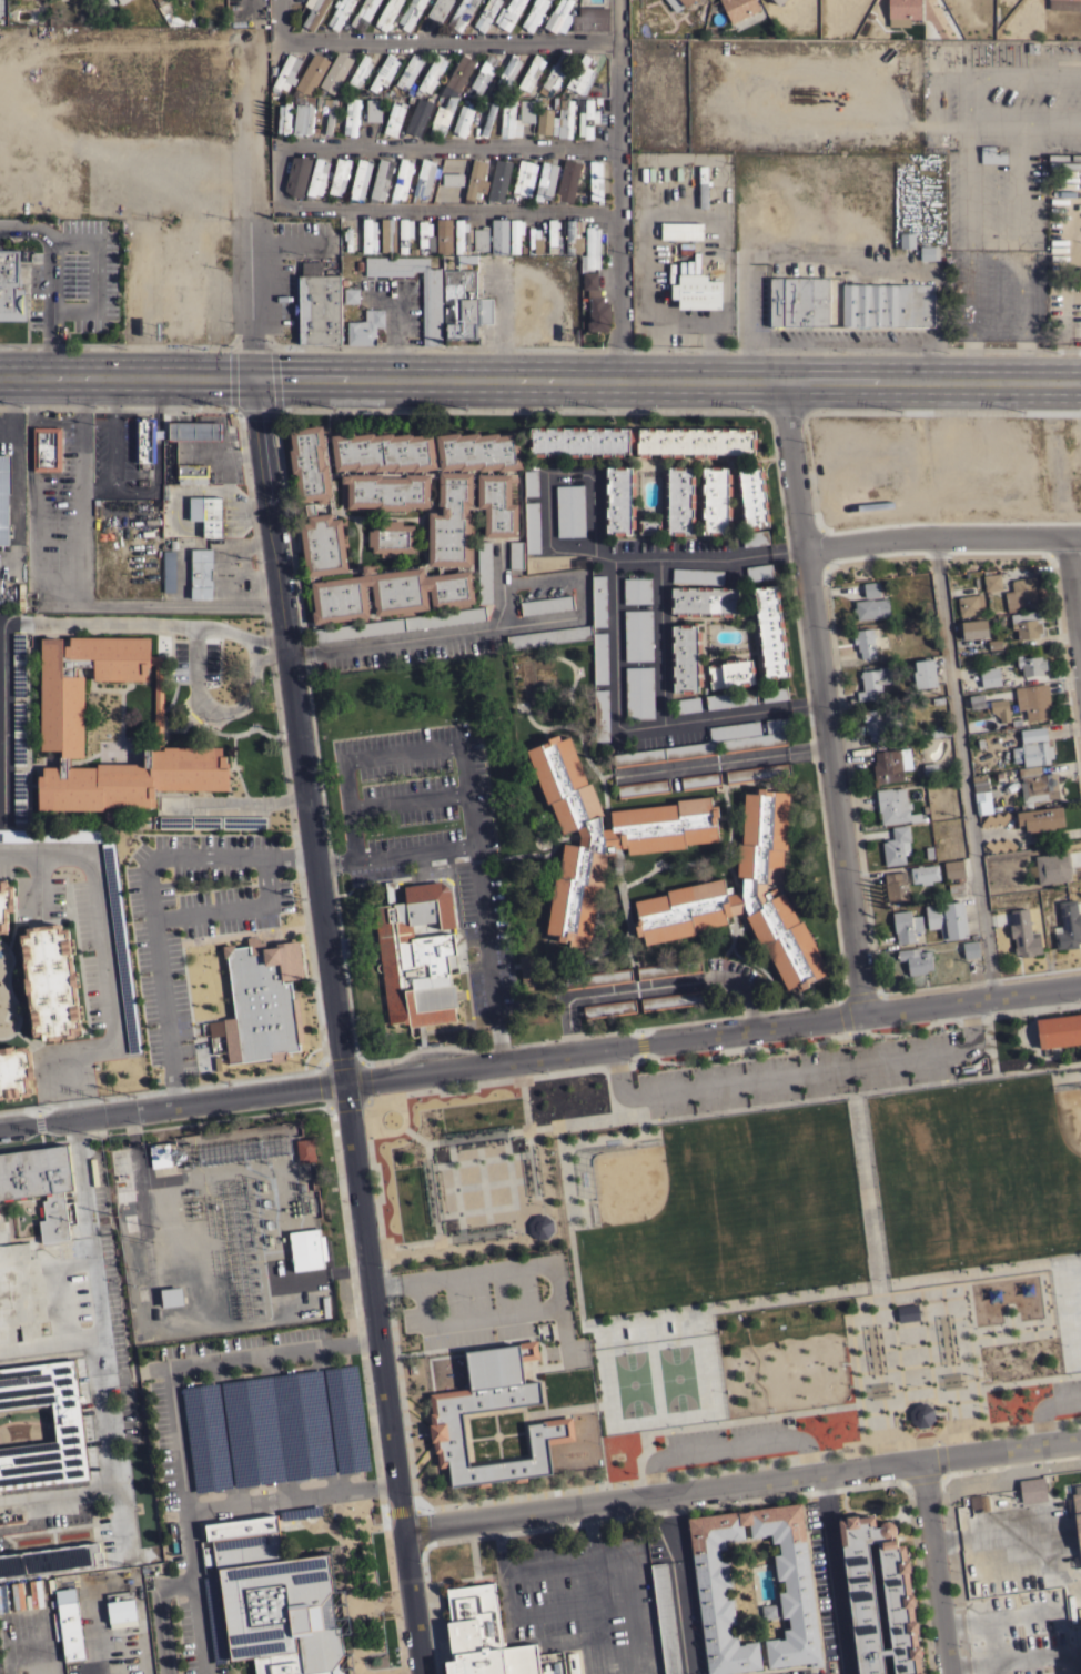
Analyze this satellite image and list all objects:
building: (122, 1)
building: (778, 1)
building: (781, 1)
building: (159, 2)
building: (678, 3)
building: (1064, 4)
building: (190, 6)
building: (739, 8)
building: (438, 9)
building: (903, 9)
building: (314, 12)
building: (340, 12)
building: (190, 13)
building: (410, 13)
building: (459, 13)
building: (508, 13)
building: (363, 14)
building: (387, 14)
building: (486, 14)
building: (534, 14)
building: (577, 18)
building: (166, 19)
building: (180, 22)
building: (190, 22)
road: (430, 42)
building: (272, 70)
building: (408, 70)
building: (507, 70)
building: (335, 71)
building: (309, 72)
building: (358, 72)
building: (384, 72)
building: (484, 72)
building: (531, 72)
building: (285, 73)
building: (431, 73)
building: (458, 74)
building: (555, 74)
building: (582, 74)
building: (493, 88)
building: (339, 92)
building: (355, 92)
building: (388, 92)
building: (499, 92)
building: (383, 93)
building: (485, 93)
building: (384, 98)
building: (465, 100)
building: (597, 100)
building: (547, 103)
building: (373, 110)
building: (330, 114)
building: (303, 117)
building: (351, 117)
building: (417, 117)
building: (488, 117)
building: (284, 118)
building: (442, 118)
building: (526, 118)
building: (587, 118)
building: (393, 119)
building: (463, 119)
building: (564, 119)
building: (543, 121)
building: (991, 154)
building: (296, 173)
building: (339, 175)
building: (317, 177)
building: (524, 178)
road: (279, 179)
building: (358, 179)
building: (380, 179)
building: (401, 179)
building: (423, 179)
building: (452, 179)
building: (475, 180)
building: (498, 180)
building: (545, 180)
building: (566, 180)
building: (595, 180)
building: (703, 186)
road: (619, 189)
road: (249, 206)
building: (404, 233)
building: (424, 234)
building: (515, 234)
building: (368, 235)
building: (387, 235)
building: (444, 235)
building: (552, 235)
building: (461, 236)
building: (498, 236)
building: (533, 236)
building: (572, 236)
building: (479, 240)
building: (907, 240)
building: (590, 250)
building: (413, 251)
building: (529, 252)
building: (929, 252)
road: (997, 255)
parking lot: (74, 279)
building: (11, 286)
building: (696, 291)
building: (351, 295)
building: (461, 299)
building: (798, 301)
building: (584, 303)
building: (595, 303)
building: (319, 304)
building: (887, 305)
building: (432, 310)
building: (486, 310)
building: (365, 327)
road: (115, 344)
road: (271, 344)
road: (676, 347)
road: (125, 376)
traffic signals: (253, 376)
road: (516, 376)
road: (931, 377)
road: (519, 406)
road: (787, 409)
road: (944, 410)
building: (193, 431)
building: (143, 441)
building: (640, 441)
building: (47, 448)
building: (190, 472)
building: (531, 482)
road: (102, 487)
road: (137, 491)
building: (4, 496)
building: (751, 496)
building: (618, 500)
building: (678, 500)
building: (715, 500)
road: (249, 507)
building: (569, 510)
building: (211, 515)
building: (647, 525)
building: (532, 527)
building: (321, 531)
road: (596, 533)
road: (941, 536)
building: (392, 537)
building: (754, 537)
building: (515, 554)
building: (169, 571)
building: (484, 572)
building: (758, 572)
building: (201, 573)
building: (696, 575)
building: (991, 581)
road: (55, 586)
road: (1074, 587)
building: (870, 588)
building: (636, 591)
building: (1021, 594)
building: (21, 596)
building: (598, 601)
building: (704, 601)
building: (543, 604)
building: (970, 604)
building: (870, 608)
building: (398, 624)
building: (1027, 624)
road: (4, 625)
building: (973, 628)
building: (769, 632)
building: (638, 635)
road: (432, 636)
building: (548, 636)
building: (865, 642)
building: (599, 657)
building: (685, 657)
building: (19, 664)
building: (1030, 665)
road: (193, 668)
building: (730, 673)
building: (923, 673)
building: (990, 676)
building: (872, 682)
building: (639, 692)
building: (774, 693)
road: (820, 696)
building: (730, 698)
building: (976, 700)
building: (1032, 700)
building: (686, 705)
building: (1000, 709)
building: (62, 713)
building: (600, 714)
building: (877, 723)
road: (297, 729)
building: (19, 733)
road: (635, 733)
building: (934, 733)
building: (751, 734)
building: (1032, 747)
road: (403, 752)
building: (664, 754)
road: (723, 763)
building: (890, 765)
road: (963, 766)
building: (930, 770)
building: (758, 773)
building: (700, 780)
building: (979, 781)
building: (1038, 785)
building: (643, 787)
building: (19, 796)
road: (406, 798)
building: (893, 806)
building: (1040, 818)
building: (994, 819)
building: (212, 821)
building: (50, 835)
building: (604, 839)
building: (1000, 845)
building: (896, 846)
road: (326, 860)
road: (476, 864)
building: (1052, 867)
building: (953, 868)
building: (923, 874)
building: (896, 886)
building: (956, 889)
building: (744, 896)
road: (149, 900)
building: (6, 904)
road: (232, 906)
building: (947, 919)
building: (906, 925)
building: (1067, 926)
building: (1022, 934)
building: (121, 947)
building: (970, 949)
road: (103, 952)
building: (916, 959)
building: (668, 968)
building: (415, 970)
building: (525, 972)
building: (592, 979)
building: (50, 982)
road: (614, 990)
road: (746, 992)
road: (970, 998)
building: (262, 1000)
building: (673, 1000)
building: (609, 1009)
building: (1059, 1030)
road: (499, 1043)
road: (603, 1049)
building: (14, 1071)
road: (798, 1072)
parking lot: (795, 1073)
road: (172, 1107)
road: (70, 1108)
park: (1068, 1119)
building: (305, 1150)
building: (160, 1154)
building: (122, 1176)
building: (40, 1183)
park: (627, 1184)
road: (867, 1196)
building: (0, 1214)
building: (130, 1222)
power substation: (229, 1224)
building: (539, 1227)
park: (778, 1229)
building: (307, 1249)
road: (512, 1269)
building: (20, 1292)
building: (171, 1297)
road: (906, 1297)
road: (731, 1304)
building: (907, 1313)
road: (1033, 1315)
road: (472, 1317)
road: (1010, 1318)
road: (1023, 1329)
road: (99, 1330)
road: (50, 1343)
road: (201, 1355)
road: (600, 1375)
road: (382, 1378)
park: (678, 1378)
road: (1031, 1379)
park: (632, 1383)
parking lot: (1065, 1391)
road: (918, 1394)
road: (1042, 1403)
building: (445, 1414)
building: (921, 1414)
road: (716, 1422)
building: (276, 1429)
building: (68, 1431)
parking lot: (723, 1434)
road: (727, 1441)
parking lot: (247, 1450)
road: (740, 1482)
building: (1032, 1490)
building: (979, 1502)
road: (209, 1506)
building: (1077, 1514)
road: (497, 1537)
road: (548, 1559)
building: (50, 1560)
road: (936, 1565)
road: (630, 1570)
road: (829, 1573)
building: (798, 1589)
building: (860, 1594)
building: (274, 1600)
road: (505, 1600)
building: (53, 1603)
building: (121, 1606)
building: (762, 1611)
road: (159, 1612)
building: (665, 1617)
building: (69, 1622)
road: (986, 1624)
building: (57, 1626)
building: (485, 1636)
building: (1073, 1637)
road: (1022, 1656)
building: (572, 1663)
building: (1077, 1667)
building: (40, 1668)

